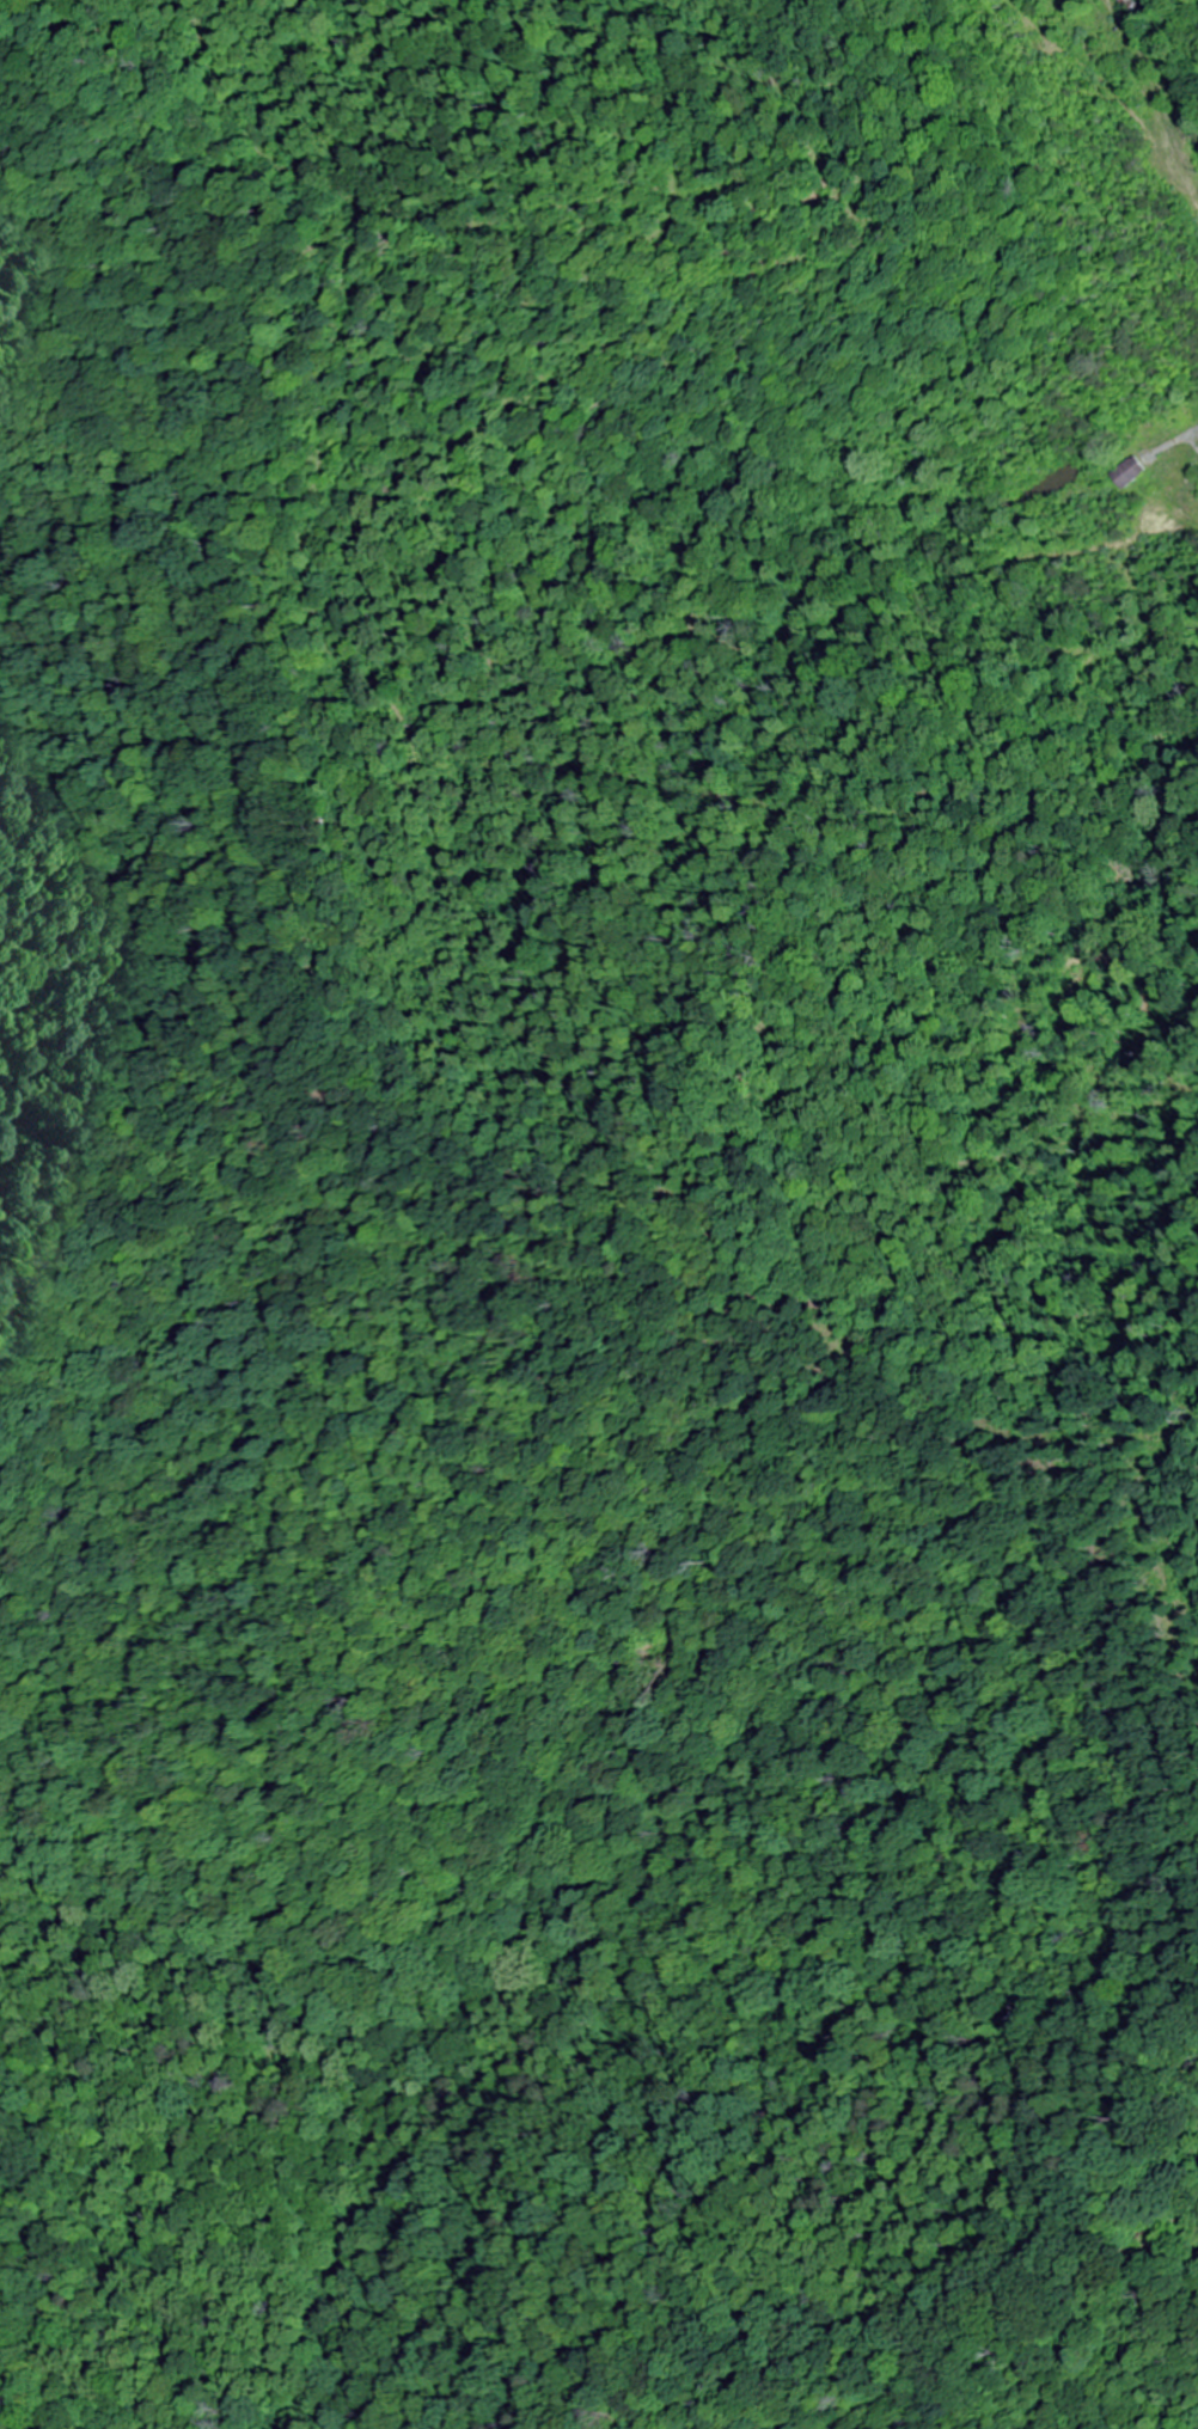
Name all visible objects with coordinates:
building: (1130, 472)

